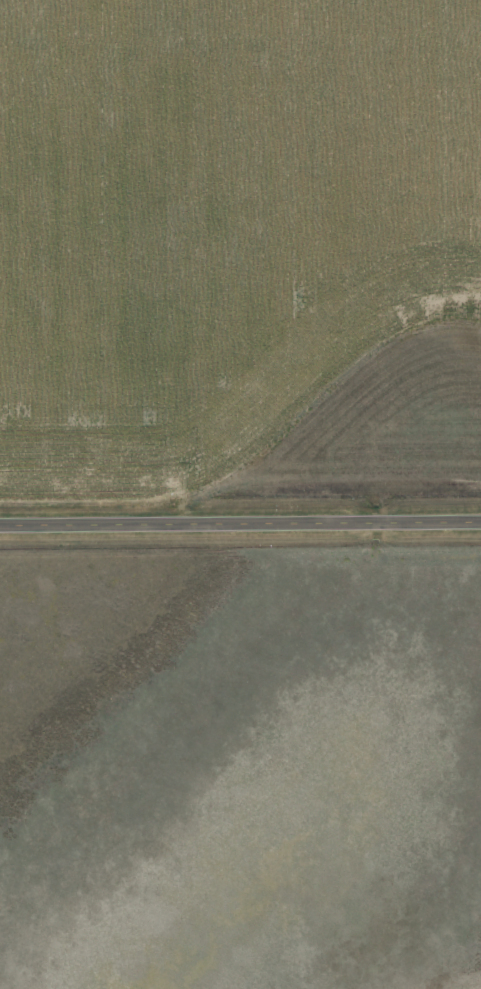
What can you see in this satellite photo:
road: (240, 524)

